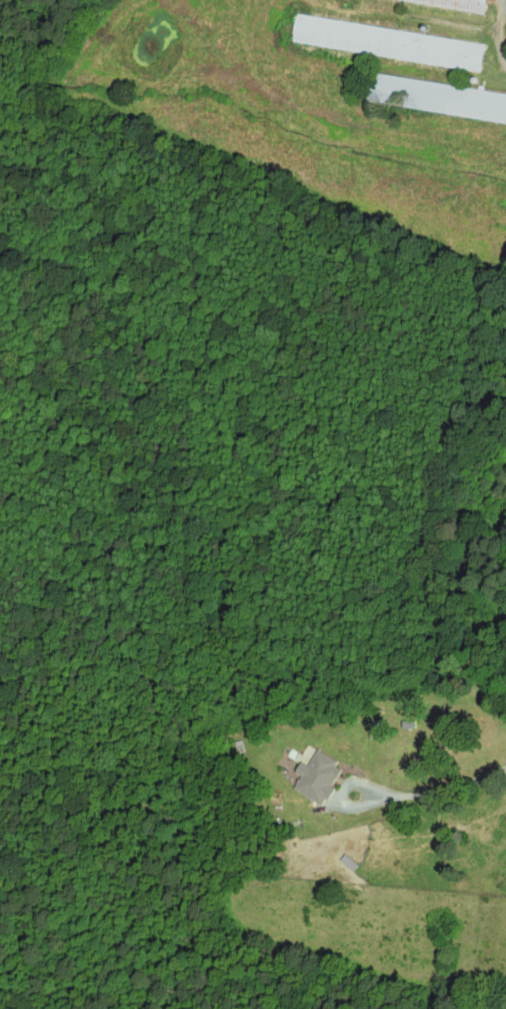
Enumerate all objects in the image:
building: (456, 3)
building: (385, 42)
building: (435, 97)
building: (323, 776)
road: (440, 786)
road: (341, 796)

